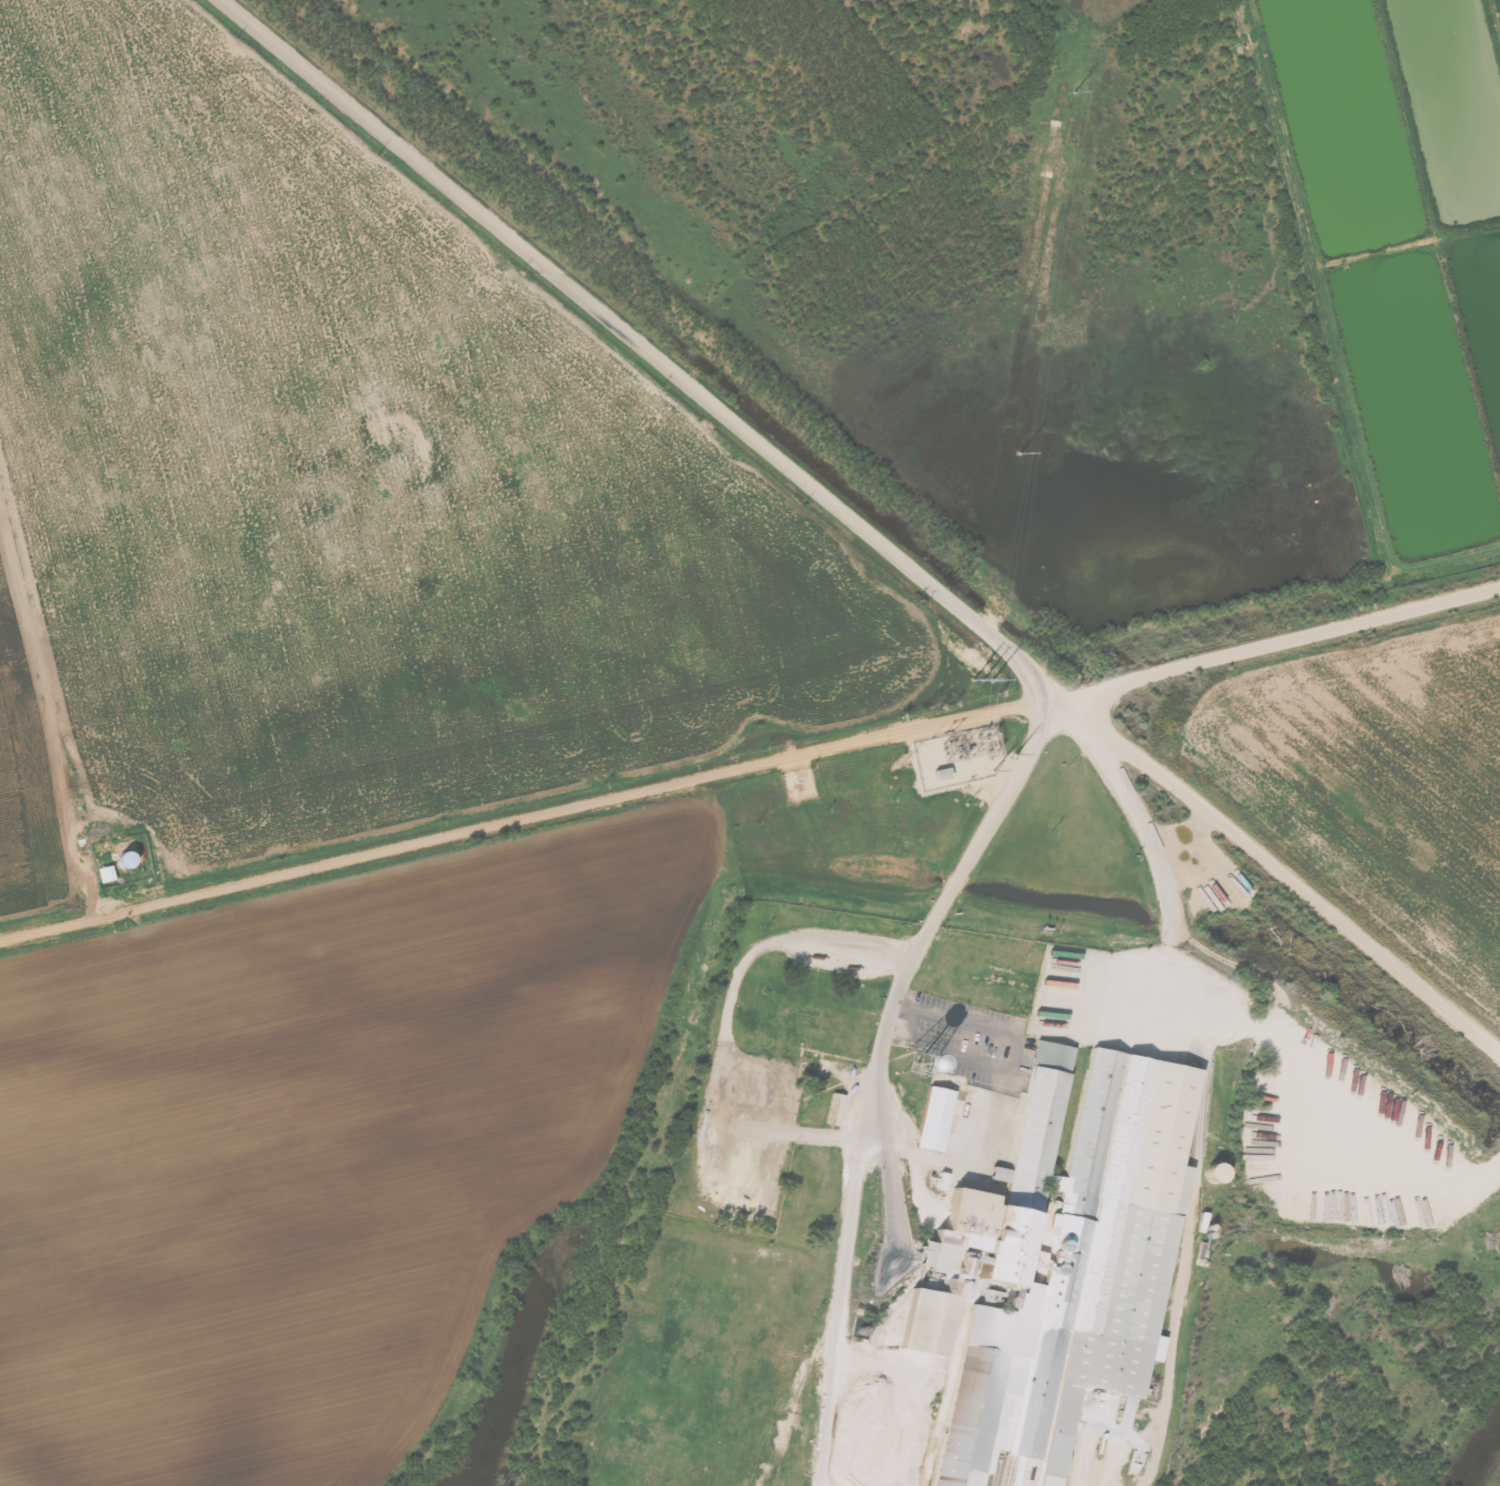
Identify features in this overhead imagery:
power tower: (1072, 101)
road: (638, 348)
power tower: (1016, 461)
railway: (892, 500)
power tower: (986, 672)
road: (38, 755)
power substation: (957, 757)
road: (751, 767)
building: (105, 873)
road: (1283, 881)
road: (910, 957)
power tower: (1253, 1068)
building: (834, 1109)
building: (934, 1119)
building: (1051, 1268)
power tower: (1349, 1310)

